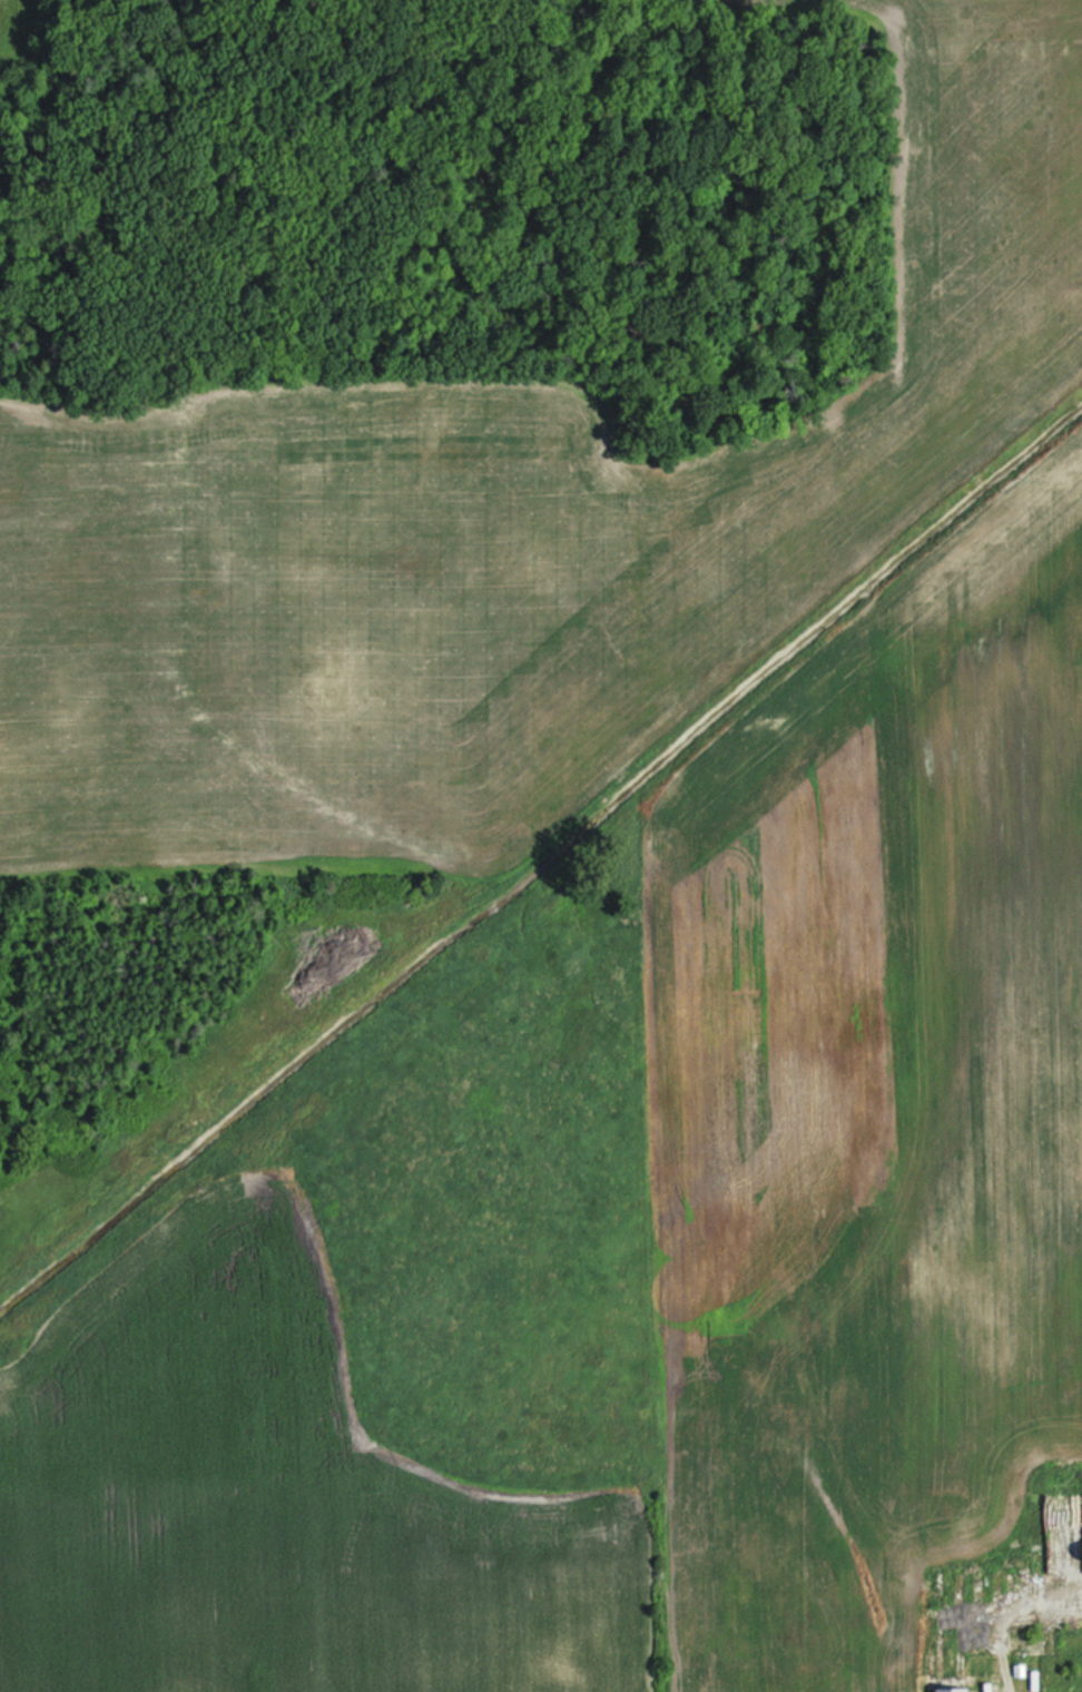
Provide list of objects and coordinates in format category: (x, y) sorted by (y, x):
building: (955, 1691)

